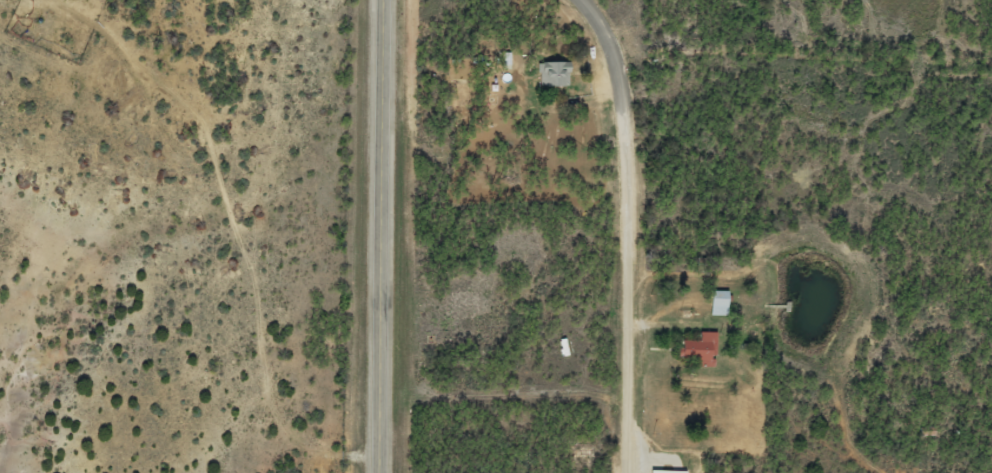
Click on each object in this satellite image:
building: (549, 73)
road: (265, 199)
road: (654, 222)
road: (380, 236)
building: (713, 302)
building: (692, 350)
road: (517, 406)
road: (320, 453)
building: (661, 471)

